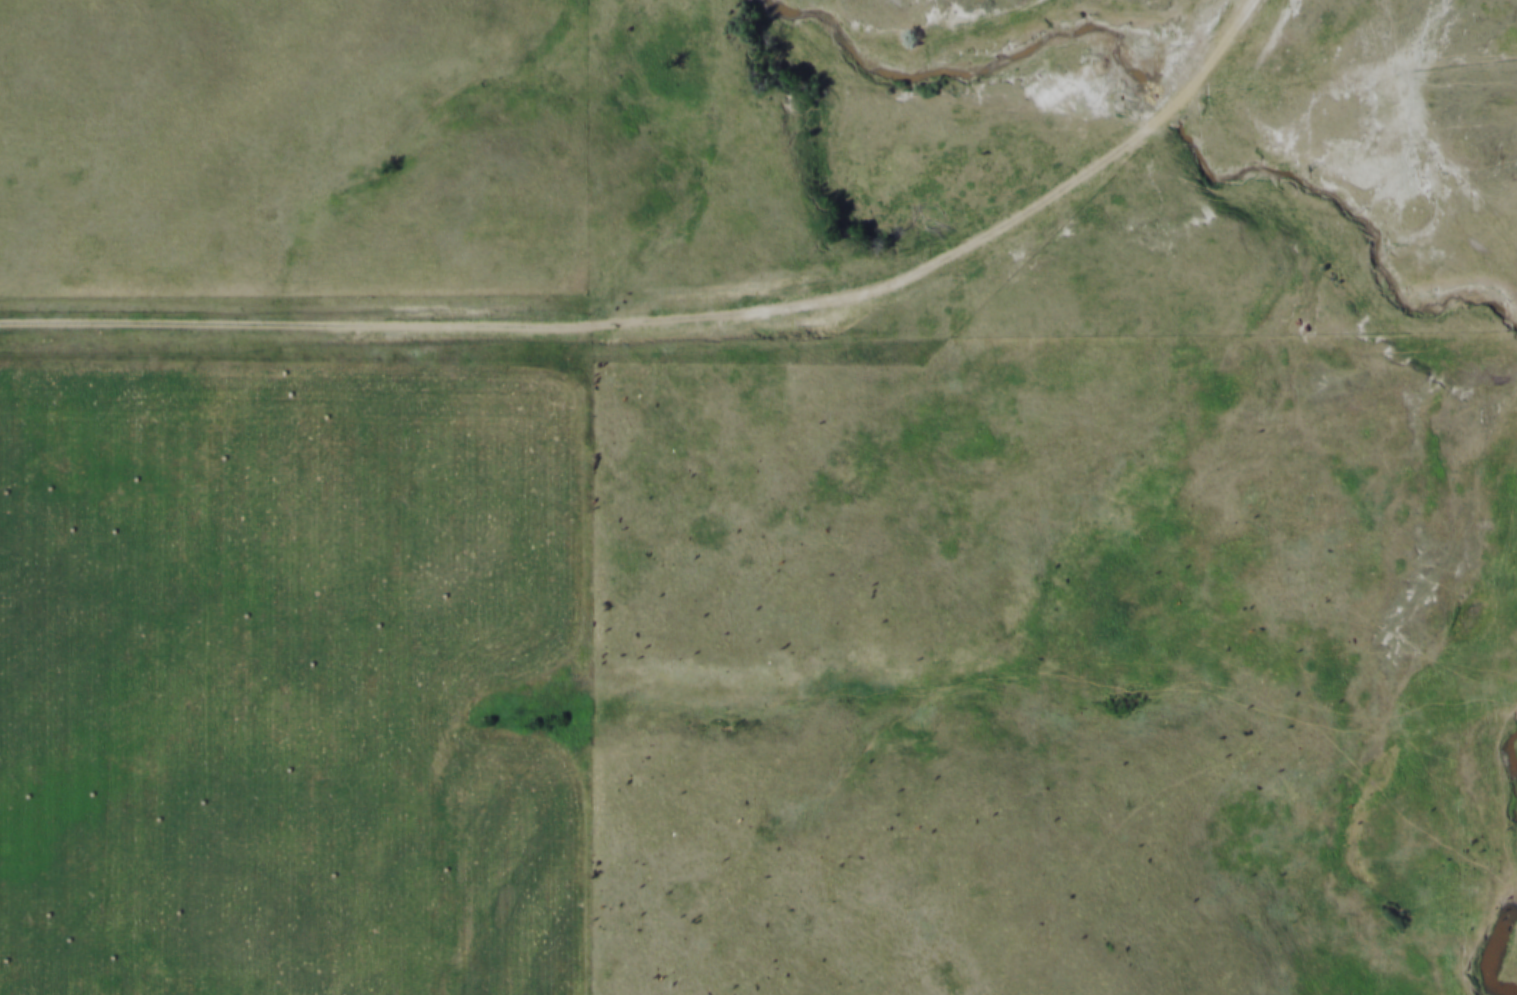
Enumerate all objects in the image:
road: (682, 321)

